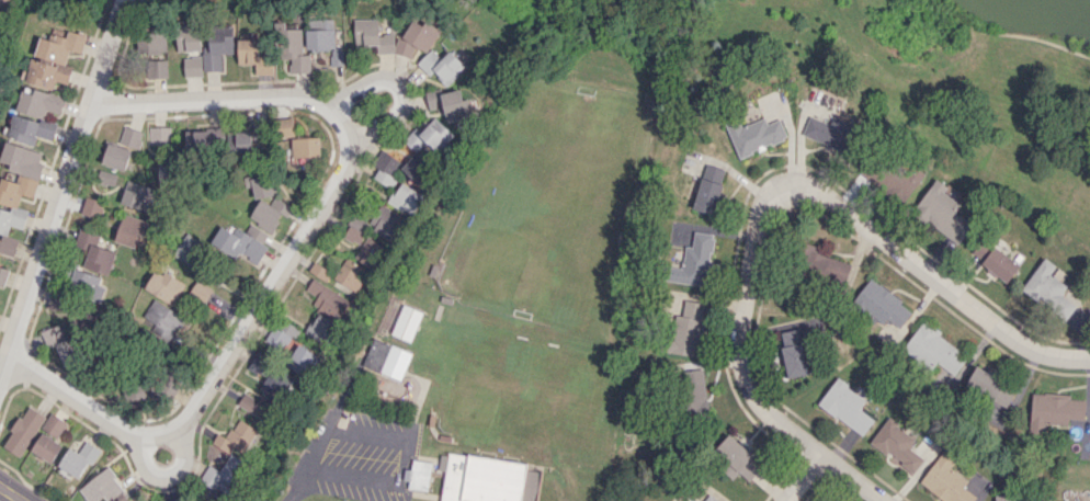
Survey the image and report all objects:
building: (394, 36)
building: (189, 37)
building: (322, 38)
building: (217, 46)
building: (291, 47)
building: (253, 56)
building: (54, 59)
building: (439, 65)
building: (192, 66)
building: (158, 68)
road: (396, 84)
road: (222, 98)
building: (39, 102)
building: (450, 103)
building: (283, 127)
building: (30, 128)
building: (830, 132)
building: (754, 135)
building: (246, 139)
building: (304, 147)
building: (122, 148)
building: (424, 148)
building: (22, 159)
building: (385, 167)
building: (106, 179)
building: (708, 189)
road: (61, 191)
building: (140, 196)
building: (405, 198)
building: (265, 203)
building: (92, 207)
building: (13, 208)
building: (942, 210)
building: (385, 221)
building: (132, 229)
building: (245, 242)
building: (188, 251)
building: (367, 251)
building: (93, 252)
building: (994, 259)
building: (694, 261)
building: (829, 267)
building: (319, 271)
building: (350, 273)
building: (2, 277)
road: (938, 277)
building: (86, 283)
building: (163, 286)
building: (1048, 288)
building: (200, 292)
building: (327, 298)
building: (58, 303)
building: (882, 305)
building: (160, 319)
building: (406, 322)
building: (319, 328)
building: (688, 329)
building: (280, 334)
building: (60, 344)
building: (934, 349)
building: (792, 352)
building: (386, 358)
building: (302, 360)
road: (740, 361)
road: (222, 362)
building: (270, 373)
building: (151, 385)
road: (345, 386)
building: (990, 386)
building: (694, 390)
building: (253, 406)
building: (845, 406)
building: (1054, 409)
building: (53, 425)
building: (23, 431)
building: (238, 437)
road: (402, 443)
building: (897, 444)
building: (46, 446)
building: (77, 459)
building: (737, 459)
road: (168, 475)
building: (224, 475)
building: (418, 475)
road: (802, 477)
building: (487, 479)
building: (945, 479)
building: (101, 486)
road: (295, 486)
road: (10, 493)
building: (711, 498)
building: (1006, 499)

